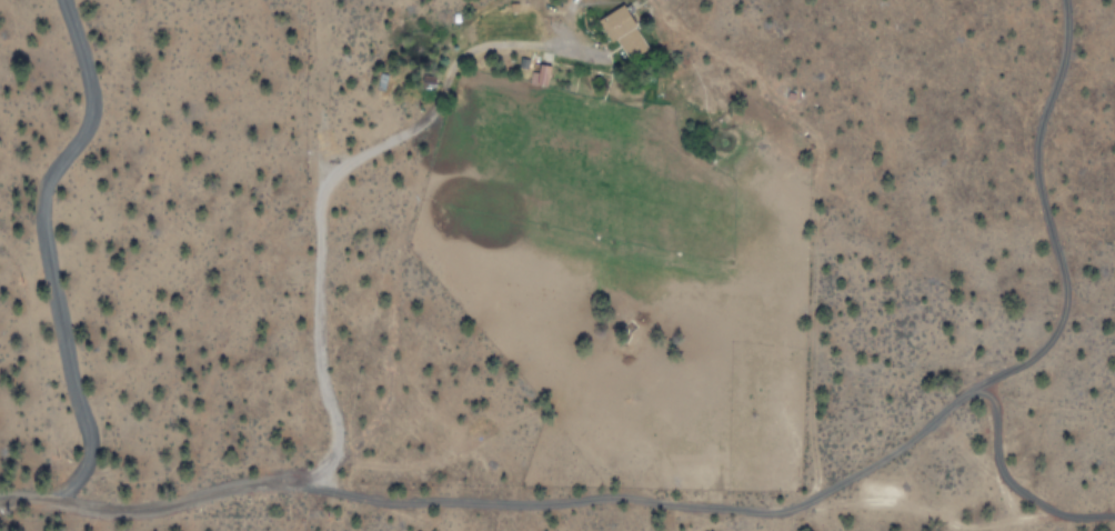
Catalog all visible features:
building: (623, 30)
road: (1051, 227)
road: (1009, 489)
road: (495, 505)

